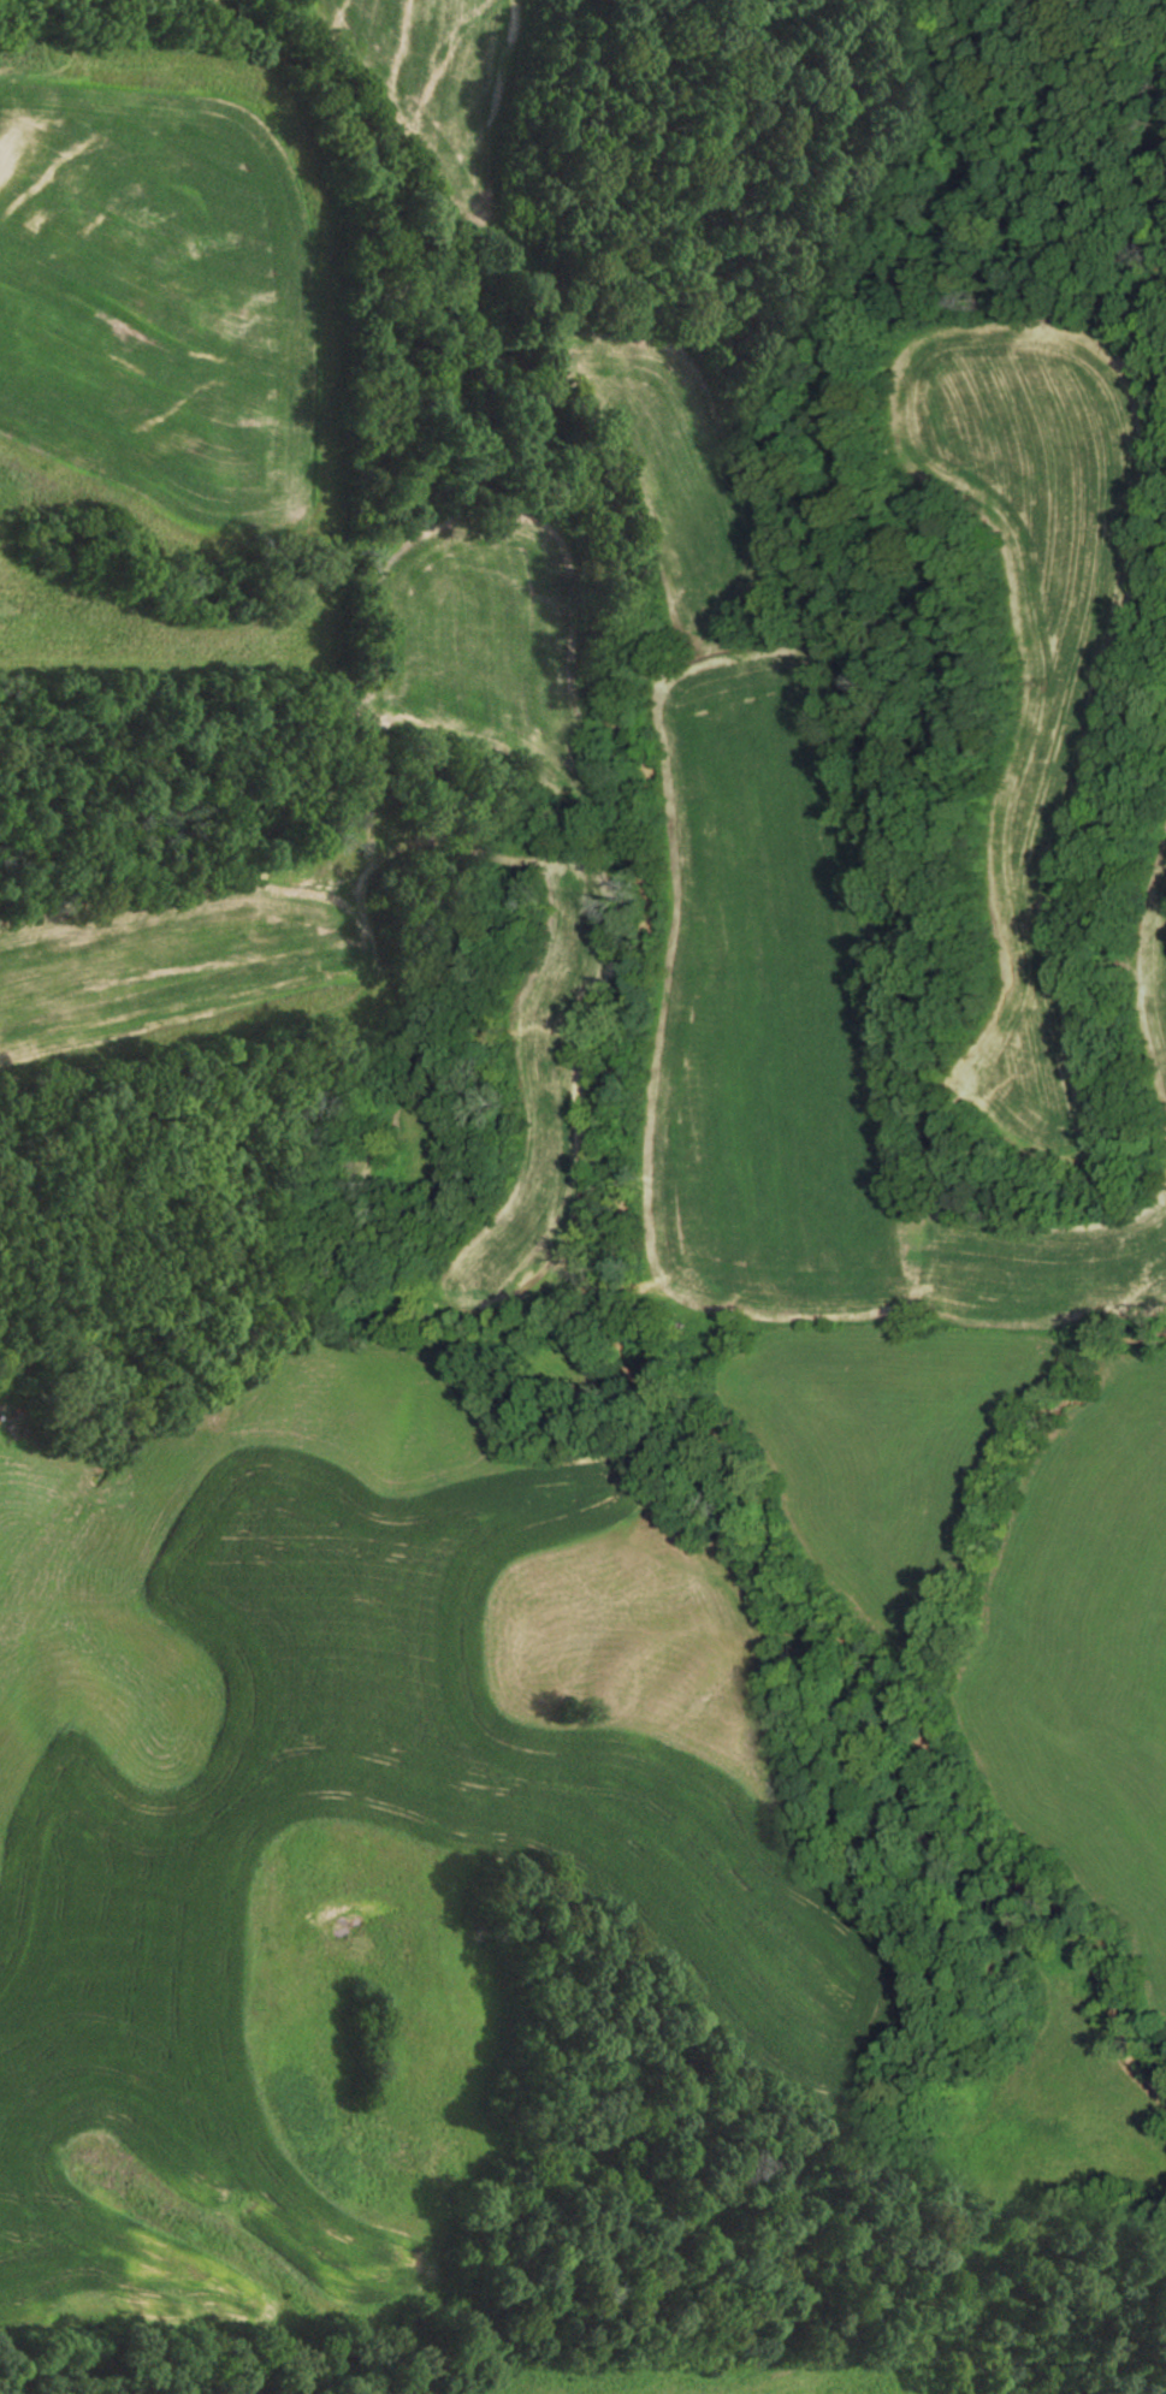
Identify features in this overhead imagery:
road: (243, 1029)
building: (375, 1167)
road: (456, 1939)

